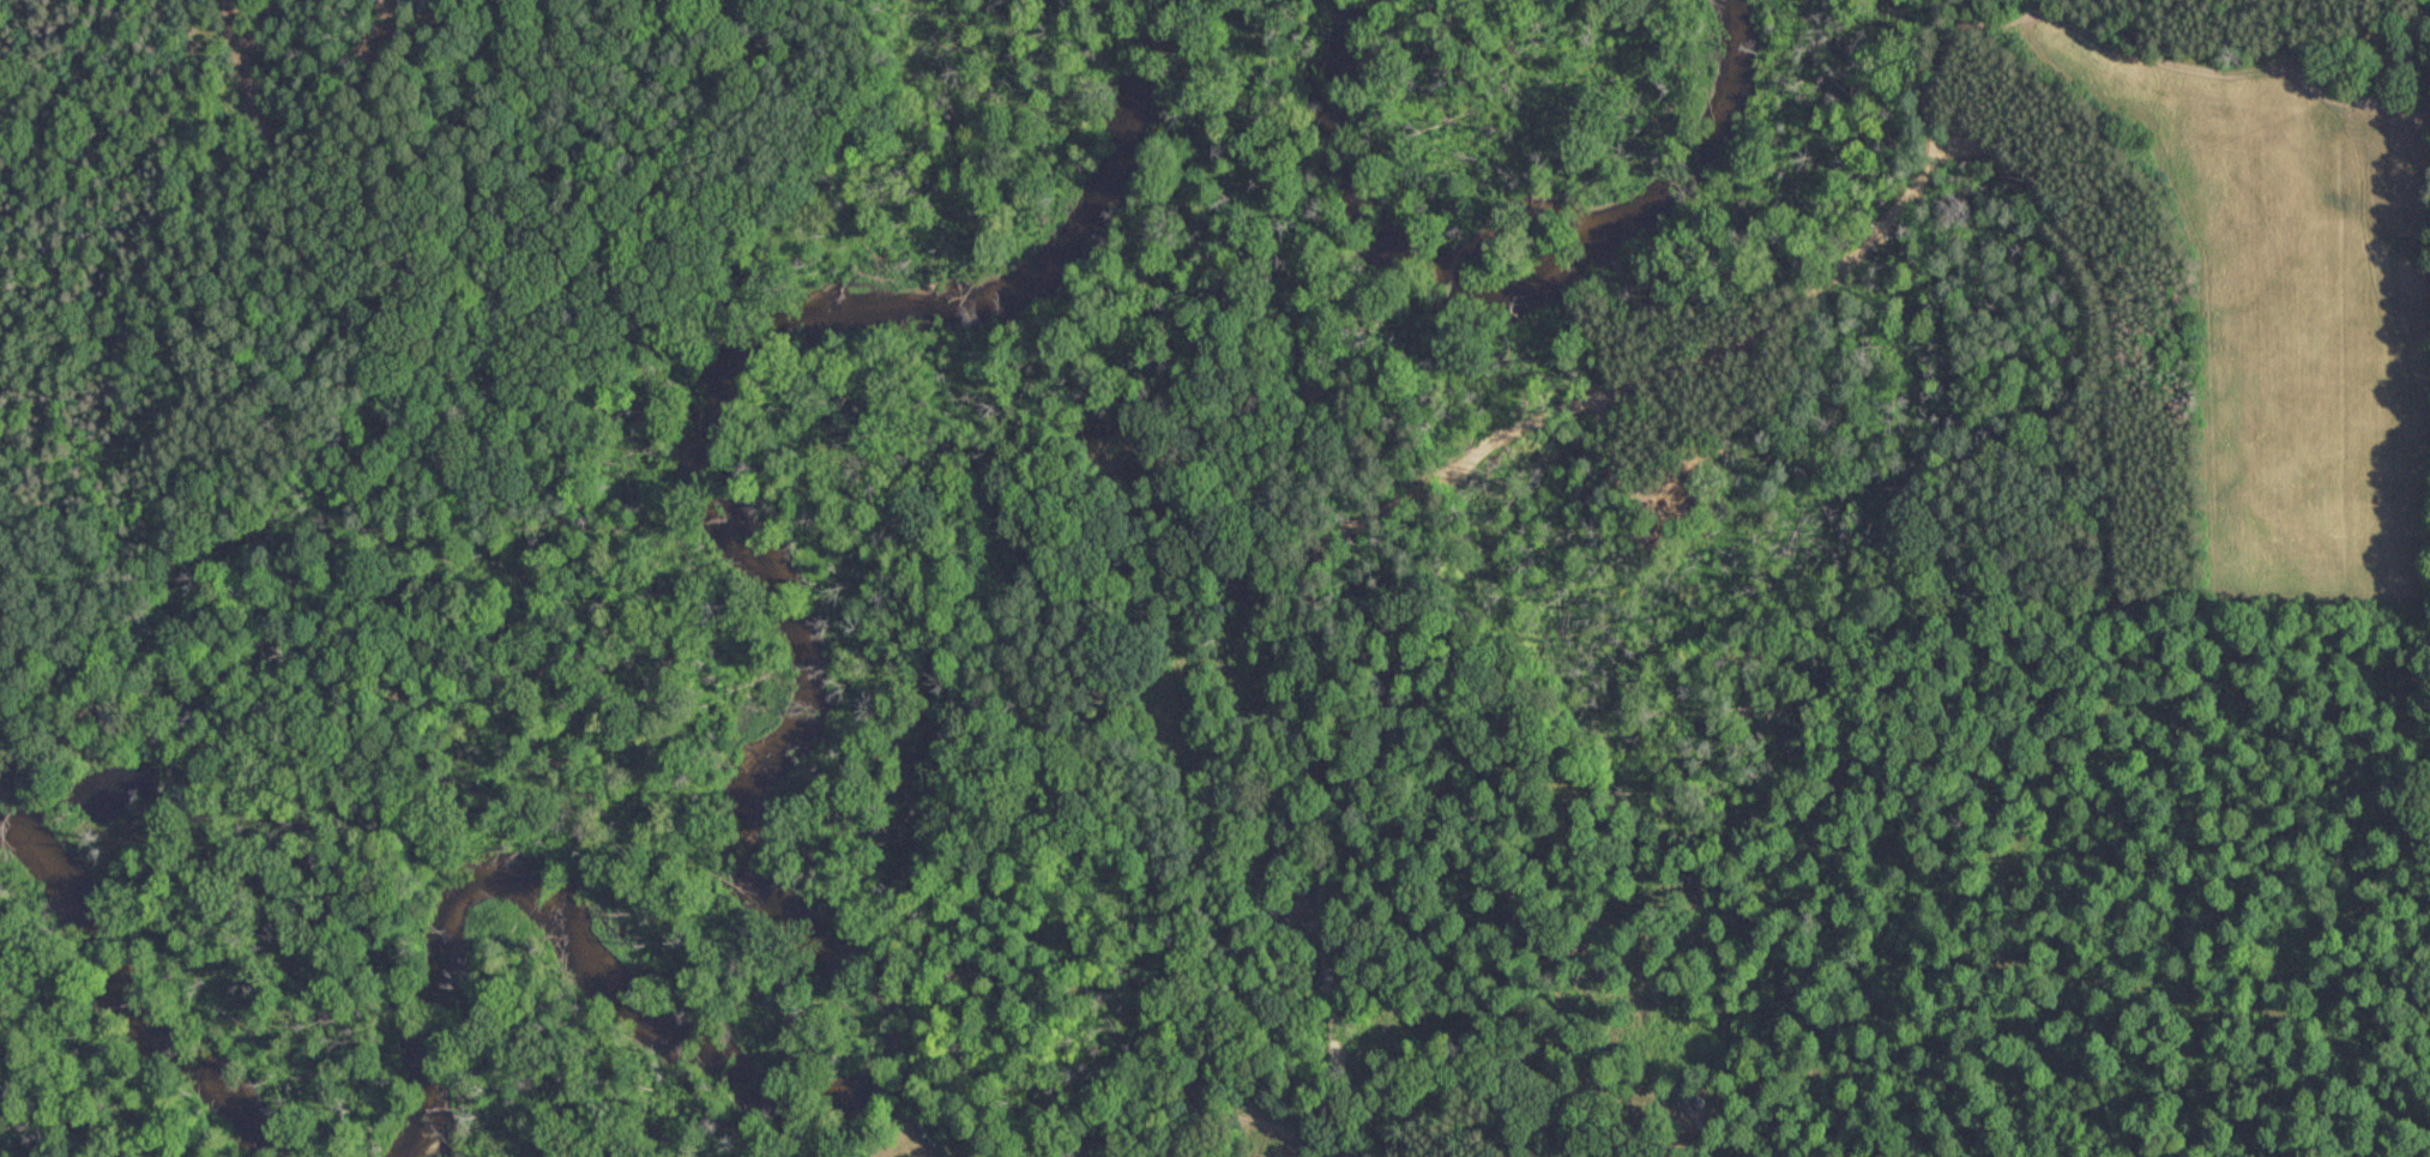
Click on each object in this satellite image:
river: (1101, 206)
river: (1509, 295)
road: (1291, 581)
river: (864, 968)
river: (131, 1002)

